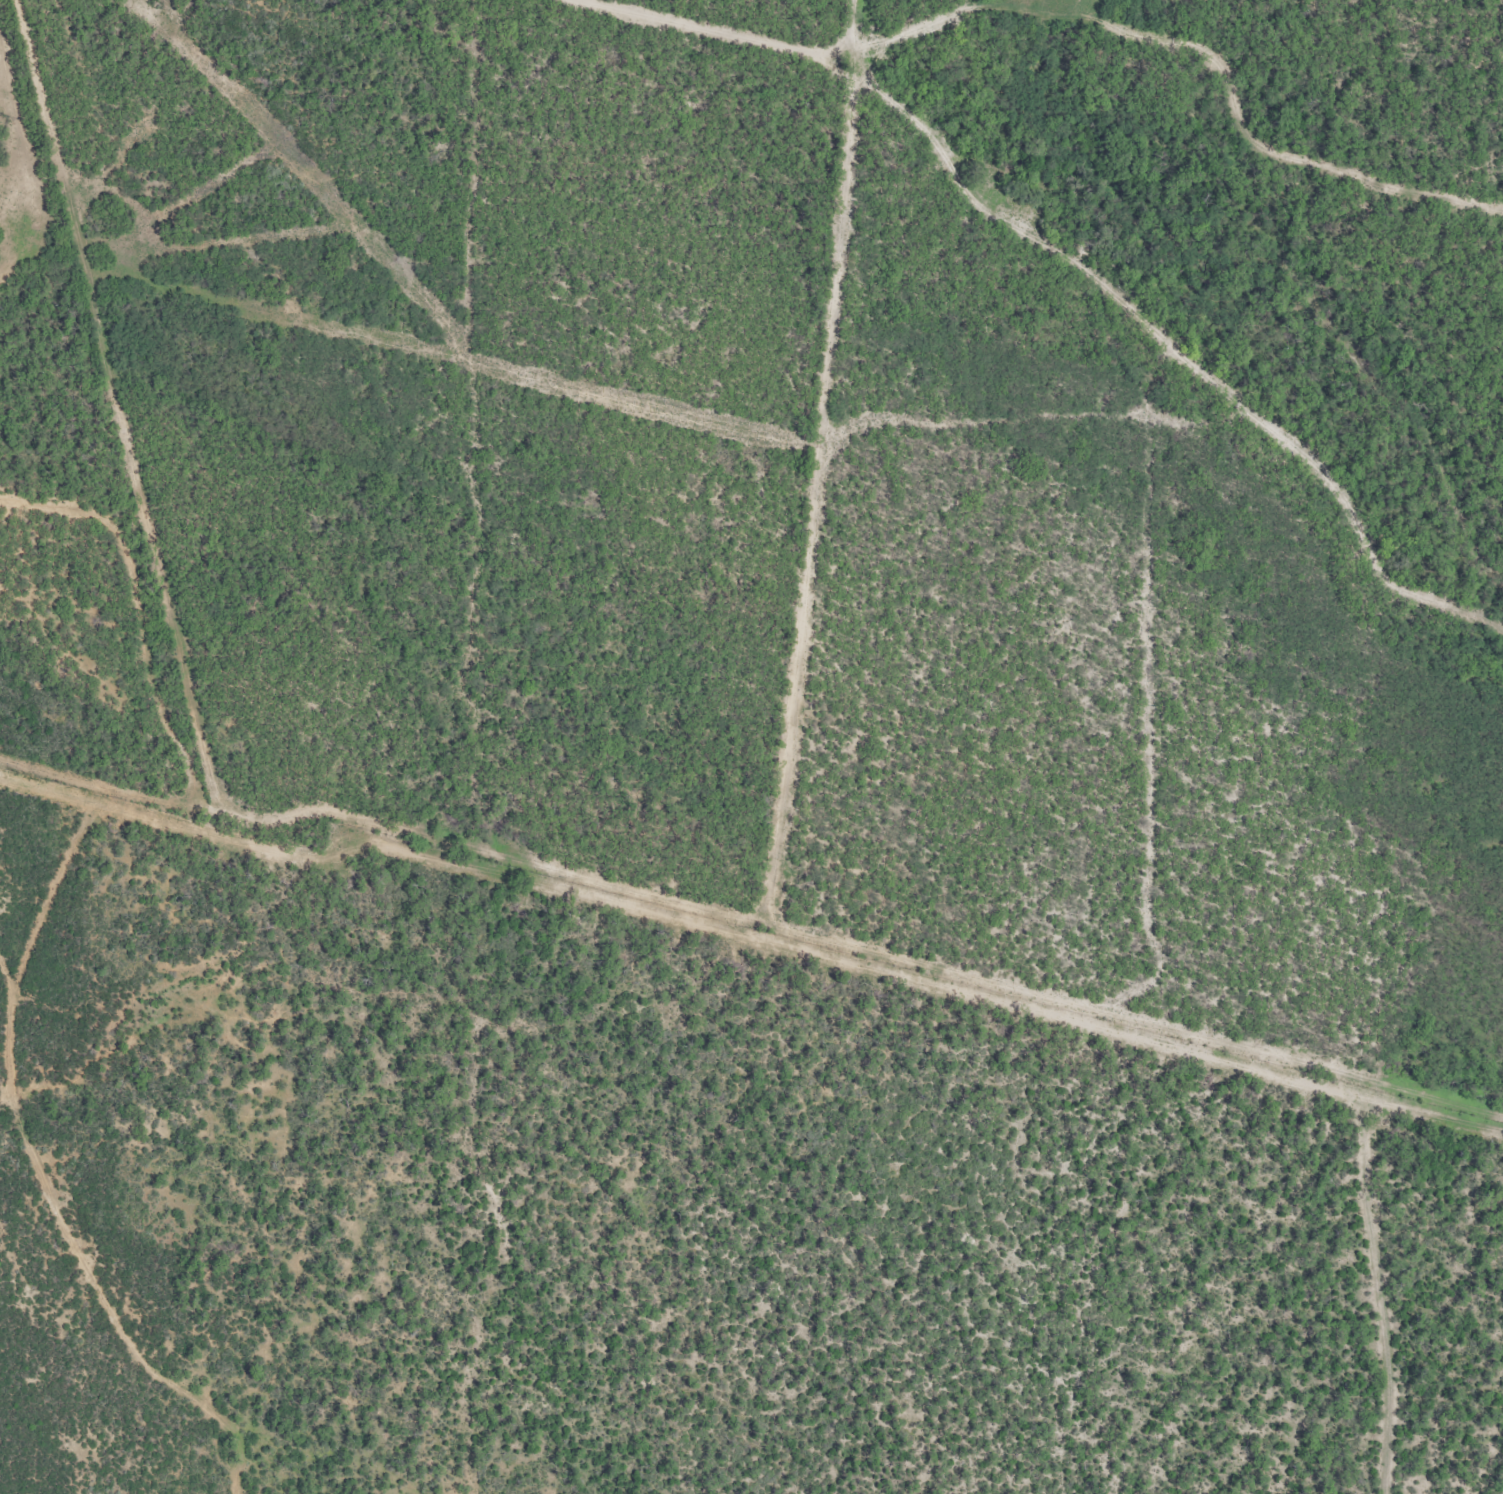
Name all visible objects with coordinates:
road: (1133, 278)
road: (786, 455)
road: (498, 880)
road: (1355, 1299)
road: (84, 1301)

